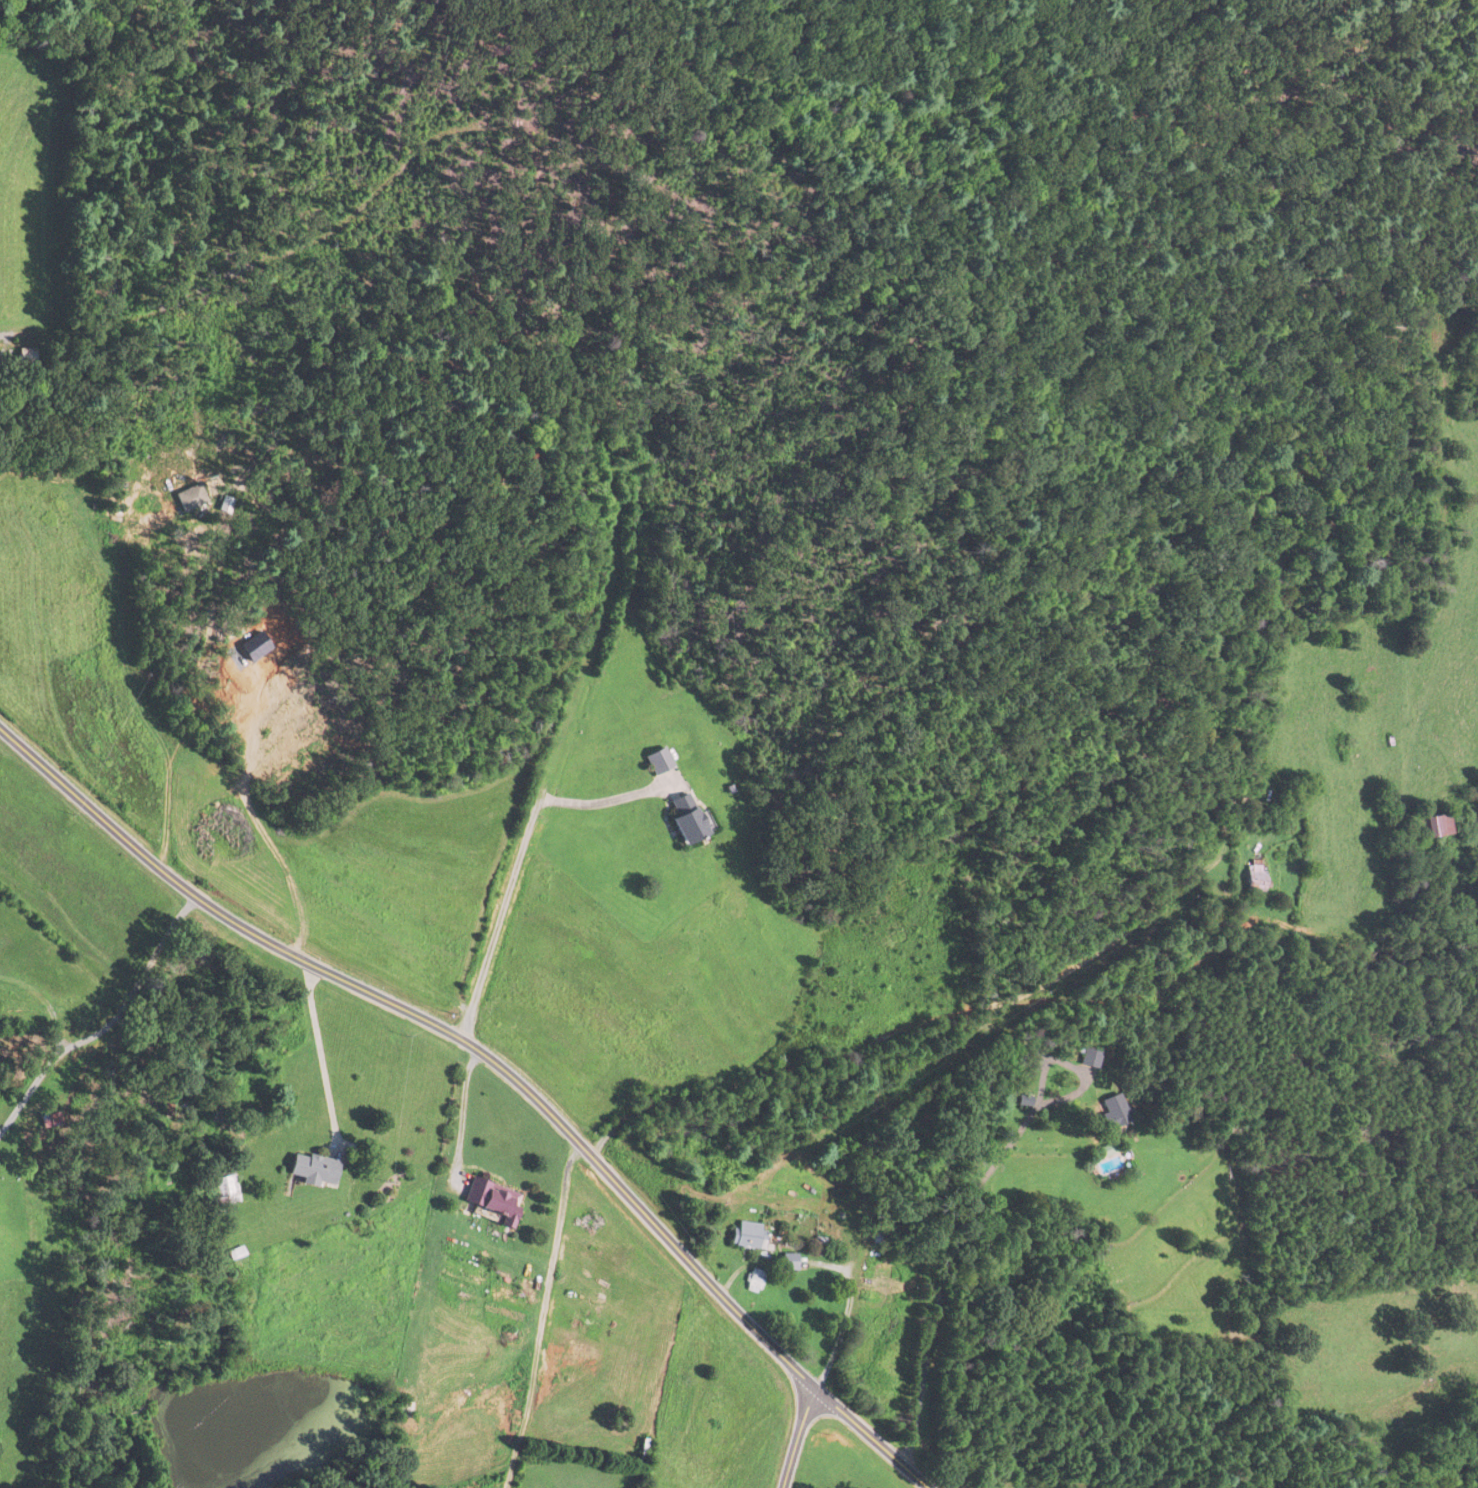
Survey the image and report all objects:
building: (26, 355)
building: (225, 506)
building: (658, 762)
road: (600, 802)
building: (685, 821)
building: (1437, 827)
road: (258, 832)
building: (1255, 878)
road: (498, 918)
road: (105, 1021)
road: (885, 1033)
road: (318, 1049)
building: (1089, 1057)
road: (497, 1065)
building: (1114, 1110)
road: (461, 1112)
building: (312, 1168)
building: (220, 1188)
building: (493, 1199)
building: (750, 1234)
building: (233, 1252)
building: (449, 1267)
building: (868, 1279)
building: (754, 1280)
road: (539, 1314)
building: (402, 1409)
road: (797, 1437)

